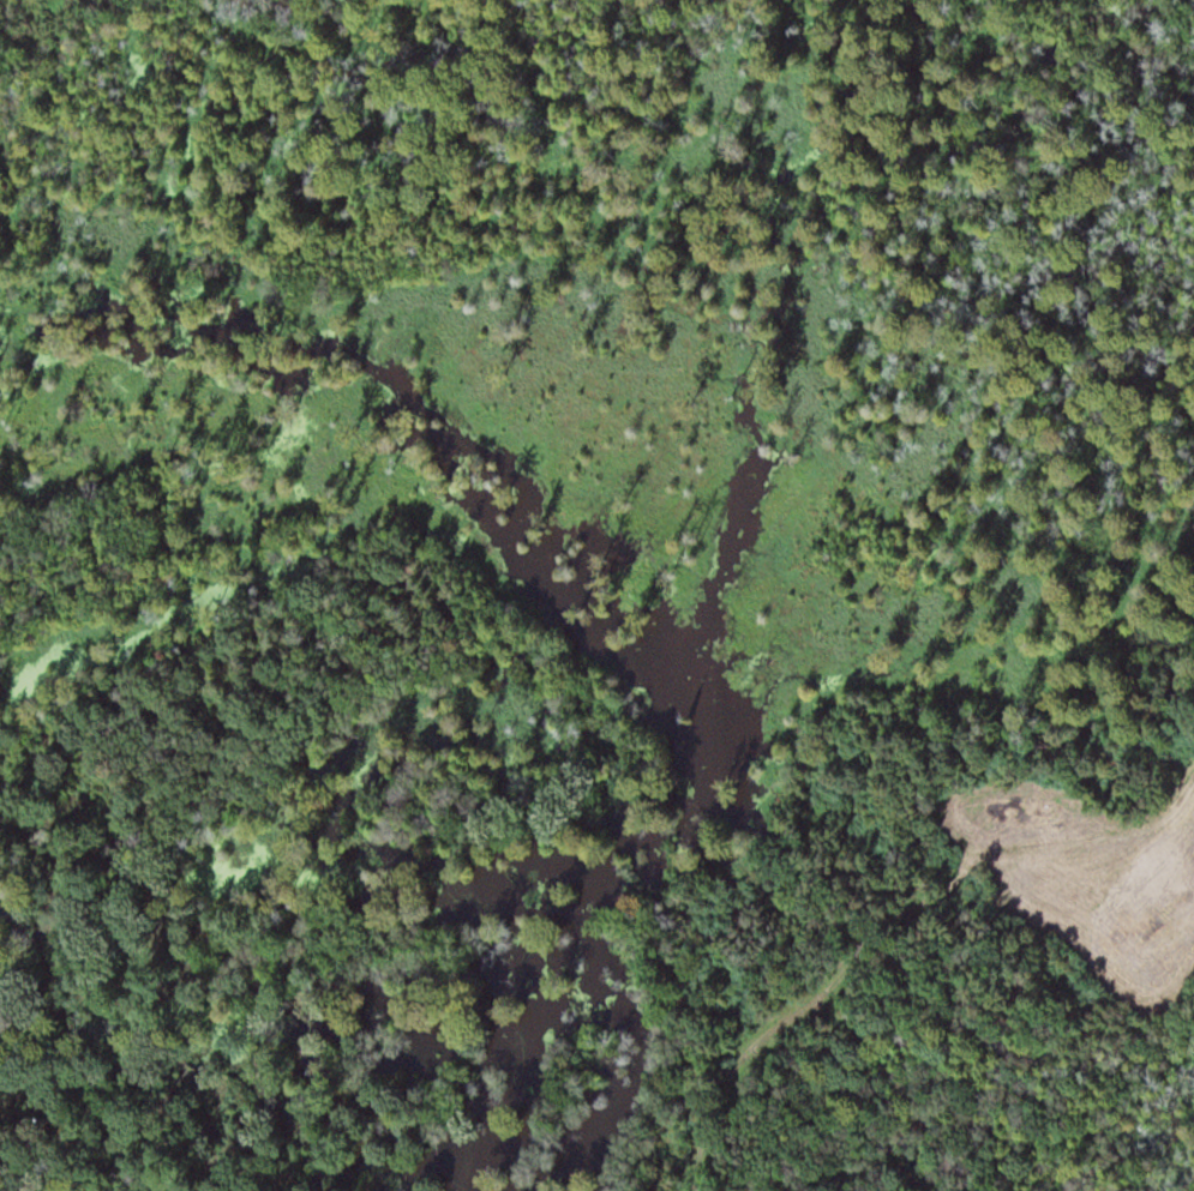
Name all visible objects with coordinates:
road: (1109, 820)

